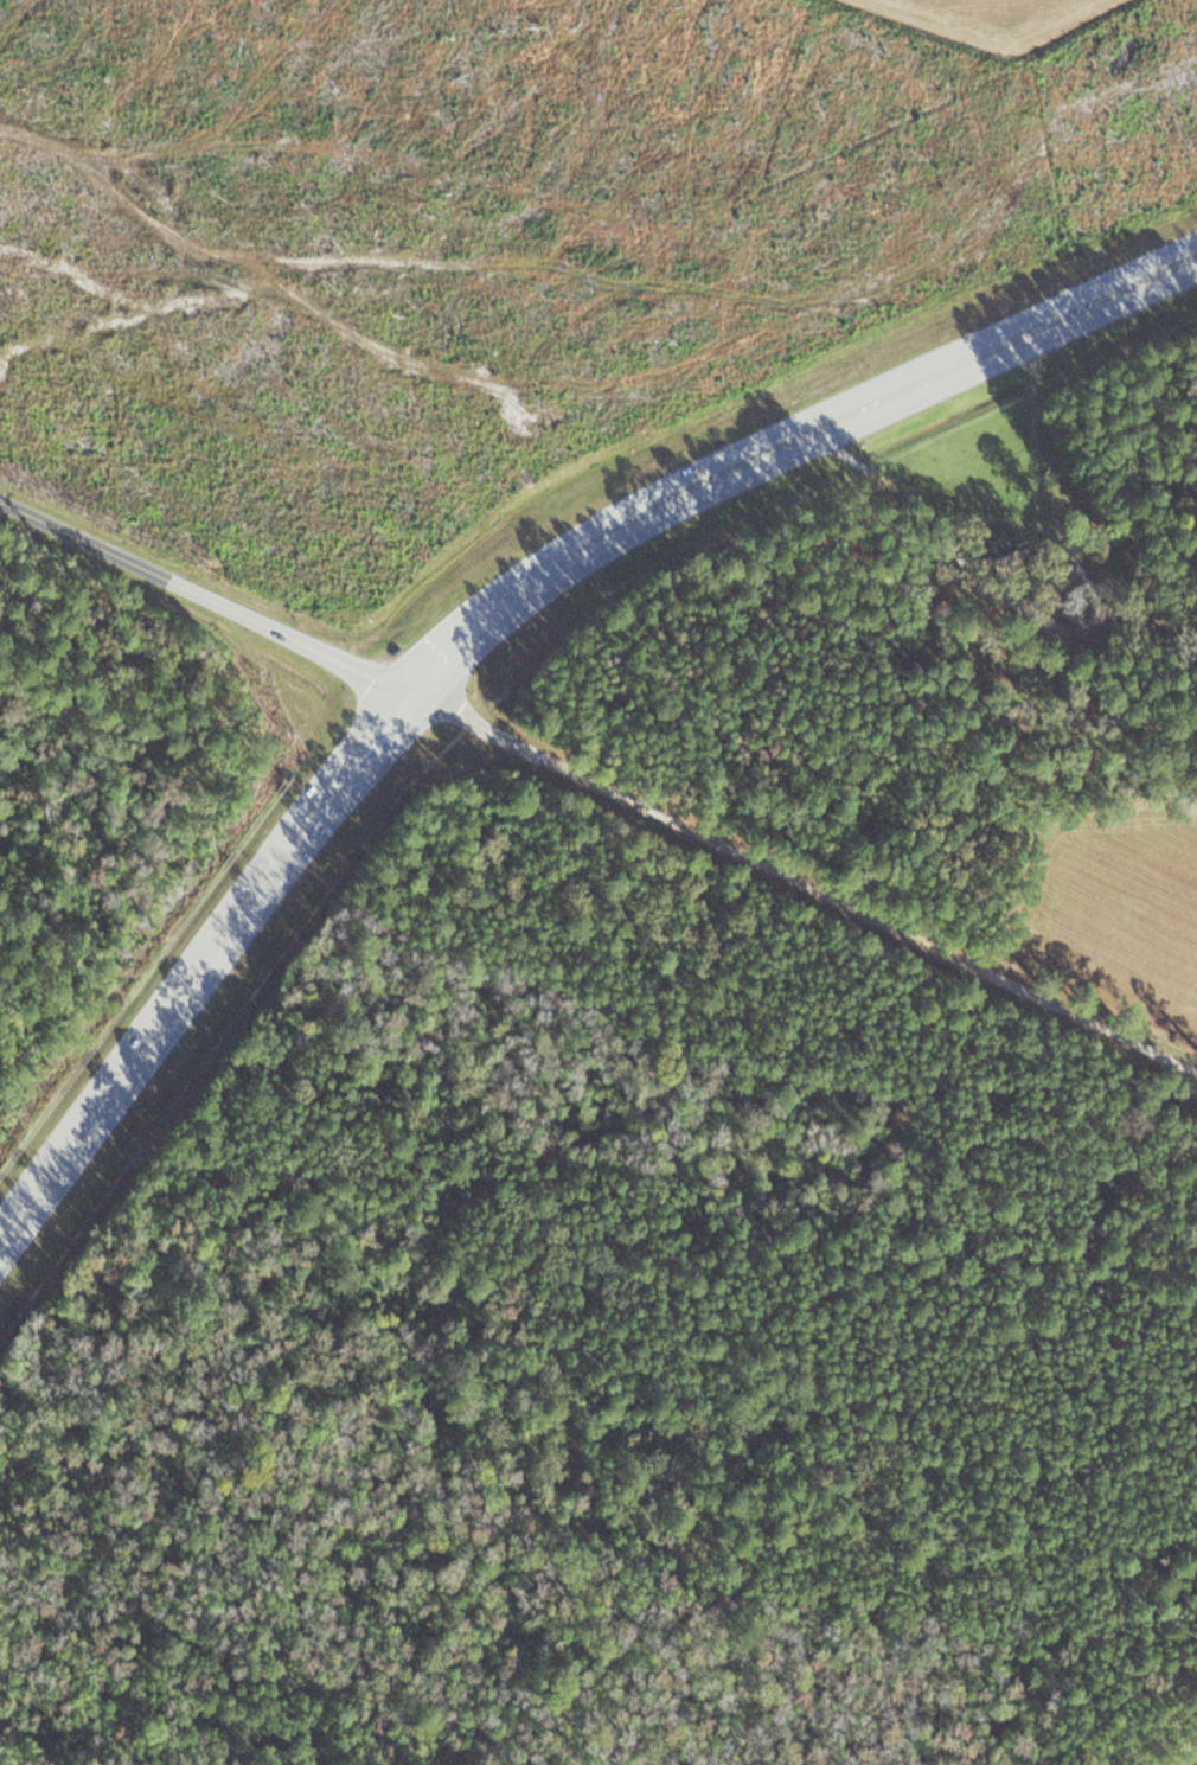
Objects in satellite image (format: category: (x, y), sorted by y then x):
road: (217, 597)
road: (488, 645)
road: (815, 885)

